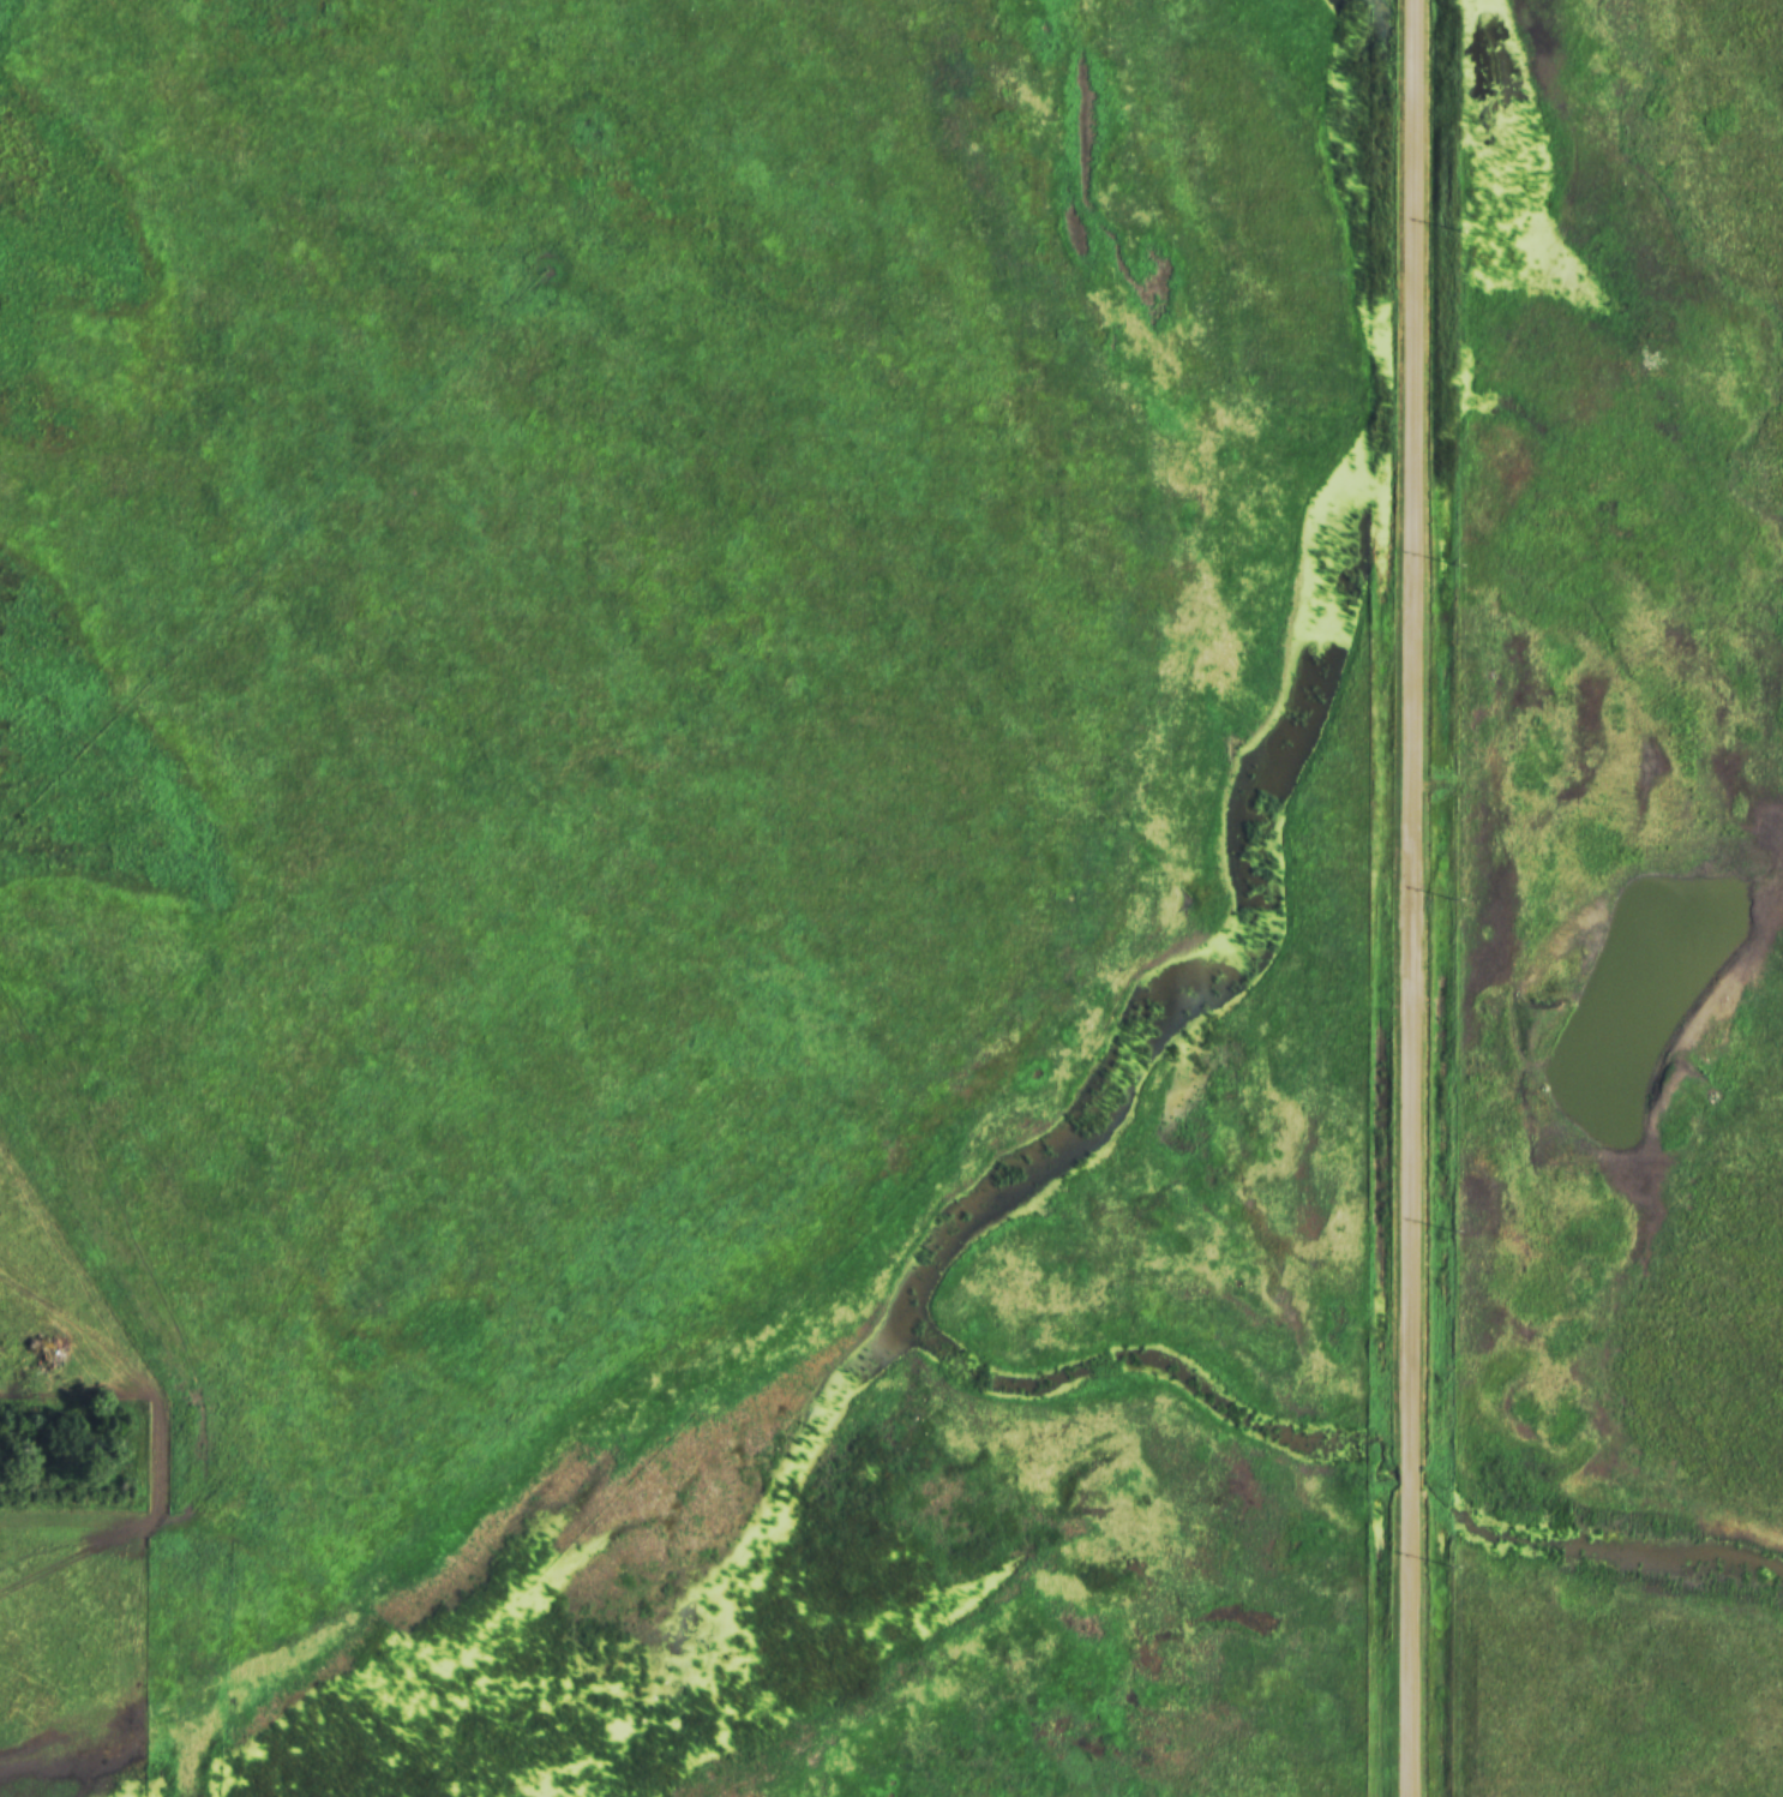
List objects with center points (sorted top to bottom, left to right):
road: (1411, 898)

